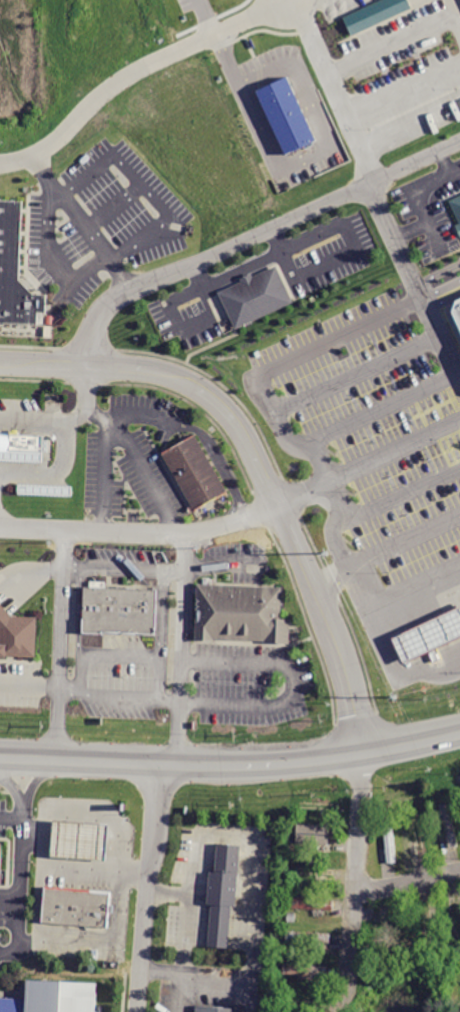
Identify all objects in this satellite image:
road: (294, 0)
road: (455, 10)
building: (374, 14)
road: (207, 17)
road: (390, 39)
road: (135, 69)
road: (402, 82)
road: (335, 89)
building: (287, 115)
road: (409, 121)
road: (304, 159)
road: (447, 161)
road: (142, 186)
road: (420, 186)
road: (111, 204)
parking lot: (430, 208)
building: (455, 211)
parking lot: (102, 220)
road: (81, 223)
road: (410, 229)
road: (435, 237)
road: (301, 242)
road: (231, 246)
road: (50, 257)
road: (322, 263)
building: (16, 270)
road: (230, 273)
road: (437, 274)
parking lot: (314, 276)
road: (414, 282)
road: (441, 289)
road: (185, 294)
building: (255, 296)
road: (443, 301)
road: (197, 319)
building: (455, 320)
road: (339, 336)
road: (44, 362)
road: (126, 366)
road: (356, 373)
road: (378, 409)
road: (75, 416)
road: (140, 417)
road: (51, 427)
road: (285, 433)
parking lot: (374, 439)
road: (65, 443)
building: (21, 448)
parking lot: (132, 461)
road: (217, 461)
road: (139, 463)
building: (195, 472)
road: (104, 474)
building: (48, 491)
road: (401, 492)
road: (272, 501)
road: (240, 521)
road: (403, 538)
road: (336, 543)
road: (125, 568)
road: (30, 569)
road: (415, 583)
building: (121, 609)
road: (78, 610)
building: (242, 615)
building: (18, 632)
road: (159, 634)
building: (428, 635)
gas station: (428, 635)
road: (62, 645)
road: (183, 647)
building: (430, 651)
road: (118, 655)
road: (398, 667)
road: (76, 673)
road: (289, 683)
road: (30, 684)
road: (68, 692)
road: (116, 695)
road: (169, 698)
road: (353, 709)
road: (231, 765)
road: (31, 783)
road: (12, 790)
road: (99, 811)
road: (10, 818)
building: (448, 825)
road: (228, 833)
building: (312, 833)
building: (418, 835)
building: (78, 838)
building: (388, 841)
building: (2, 860)
road: (56, 865)
building: (315, 871)
road: (353, 884)
road: (406, 884)
road: (145, 887)
road: (17, 888)
building: (221, 891)
road: (167, 892)
road: (37, 902)
building: (312, 902)
building: (75, 905)
building: (308, 936)
building: (392, 944)
road: (89, 945)
building: (304, 968)
road: (161, 971)
road: (217, 976)
road: (182, 978)
parking lot: (177, 997)
building: (54, 998)
road: (180, 998)
building: (214, 1010)

